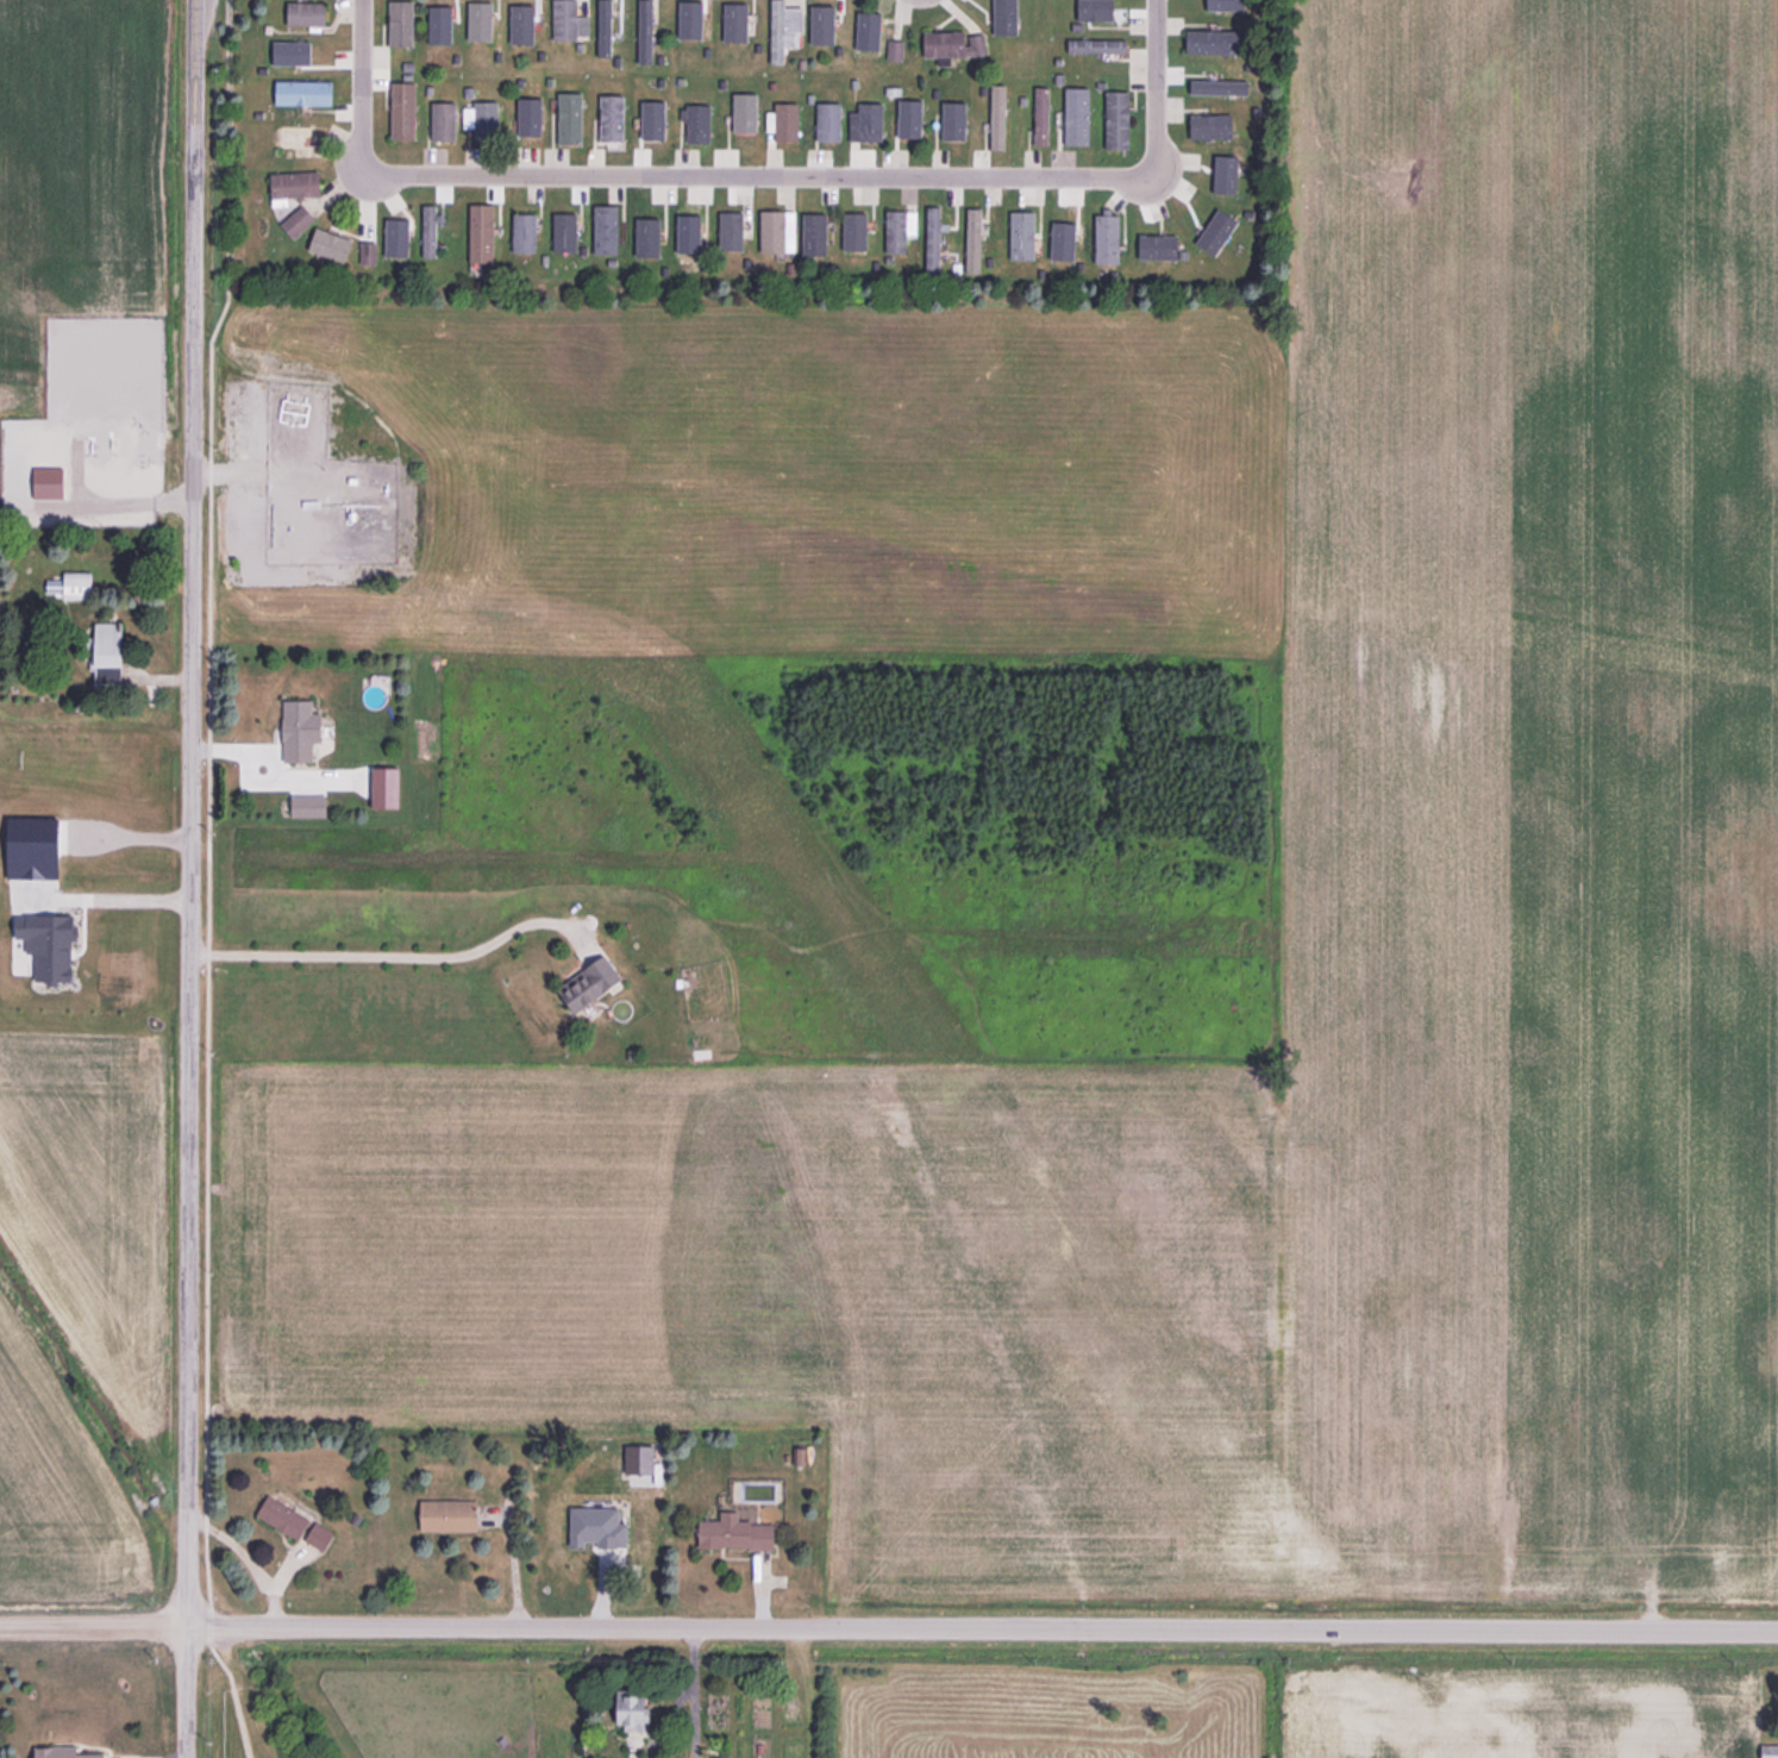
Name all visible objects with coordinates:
building: (1219, 5)
building: (1095, 10)
building: (307, 14)
building: (568, 20)
building: (480, 21)
building: (695, 21)
building: (400, 23)
building: (603, 27)
building: (783, 29)
building: (434, 31)
building: (1214, 40)
building: (953, 43)
building: (1097, 45)
building: (895, 49)
road: (361, 83)
road: (1154, 83)
building: (303, 92)
building: (402, 111)
building: (1041, 114)
building: (745, 115)
building: (1077, 115)
building: (611, 117)
building: (996, 117)
building: (570, 118)
building: (909, 118)
building: (482, 119)
building: (653, 119)
building: (1117, 119)
building: (783, 120)
building: (444, 121)
building: (697, 121)
building: (828, 121)
building: (866, 121)
building: (1210, 125)
building: (301, 137)
road: (193, 159)
building: (1228, 171)
road: (758, 179)
building: (295, 184)
building: (298, 221)
crop: (79, 226)
building: (900, 229)
building: (606, 230)
building: (430, 231)
building: (778, 231)
building: (481, 232)
building: (524, 232)
building: (564, 232)
building: (641, 234)
building: (1022, 234)
building: (973, 237)
building: (1107, 237)
building: (395, 240)
building: (689, 244)
building: (333, 245)
building: (1159, 248)
building: (368, 252)
building: (106, 481)
building: (71, 586)
building: (107, 652)
crop: (1530, 678)
building: (300, 731)
building: (386, 788)
building: (308, 806)
road: (208, 811)
road: (124, 834)
road: (107, 895)
road: (387, 956)
building: (588, 984)
road: (187, 1038)
crop: (81, 1156)
building: (447, 1516)
building: (283, 1518)
building: (734, 1533)
building: (318, 1535)
road: (888, 1626)
road: (700, 1653)
building: (633, 1710)
park: (250, 1714)
road: (672, 1718)
road: (699, 1720)
building: (1770, 1752)
building: (62, 1753)

